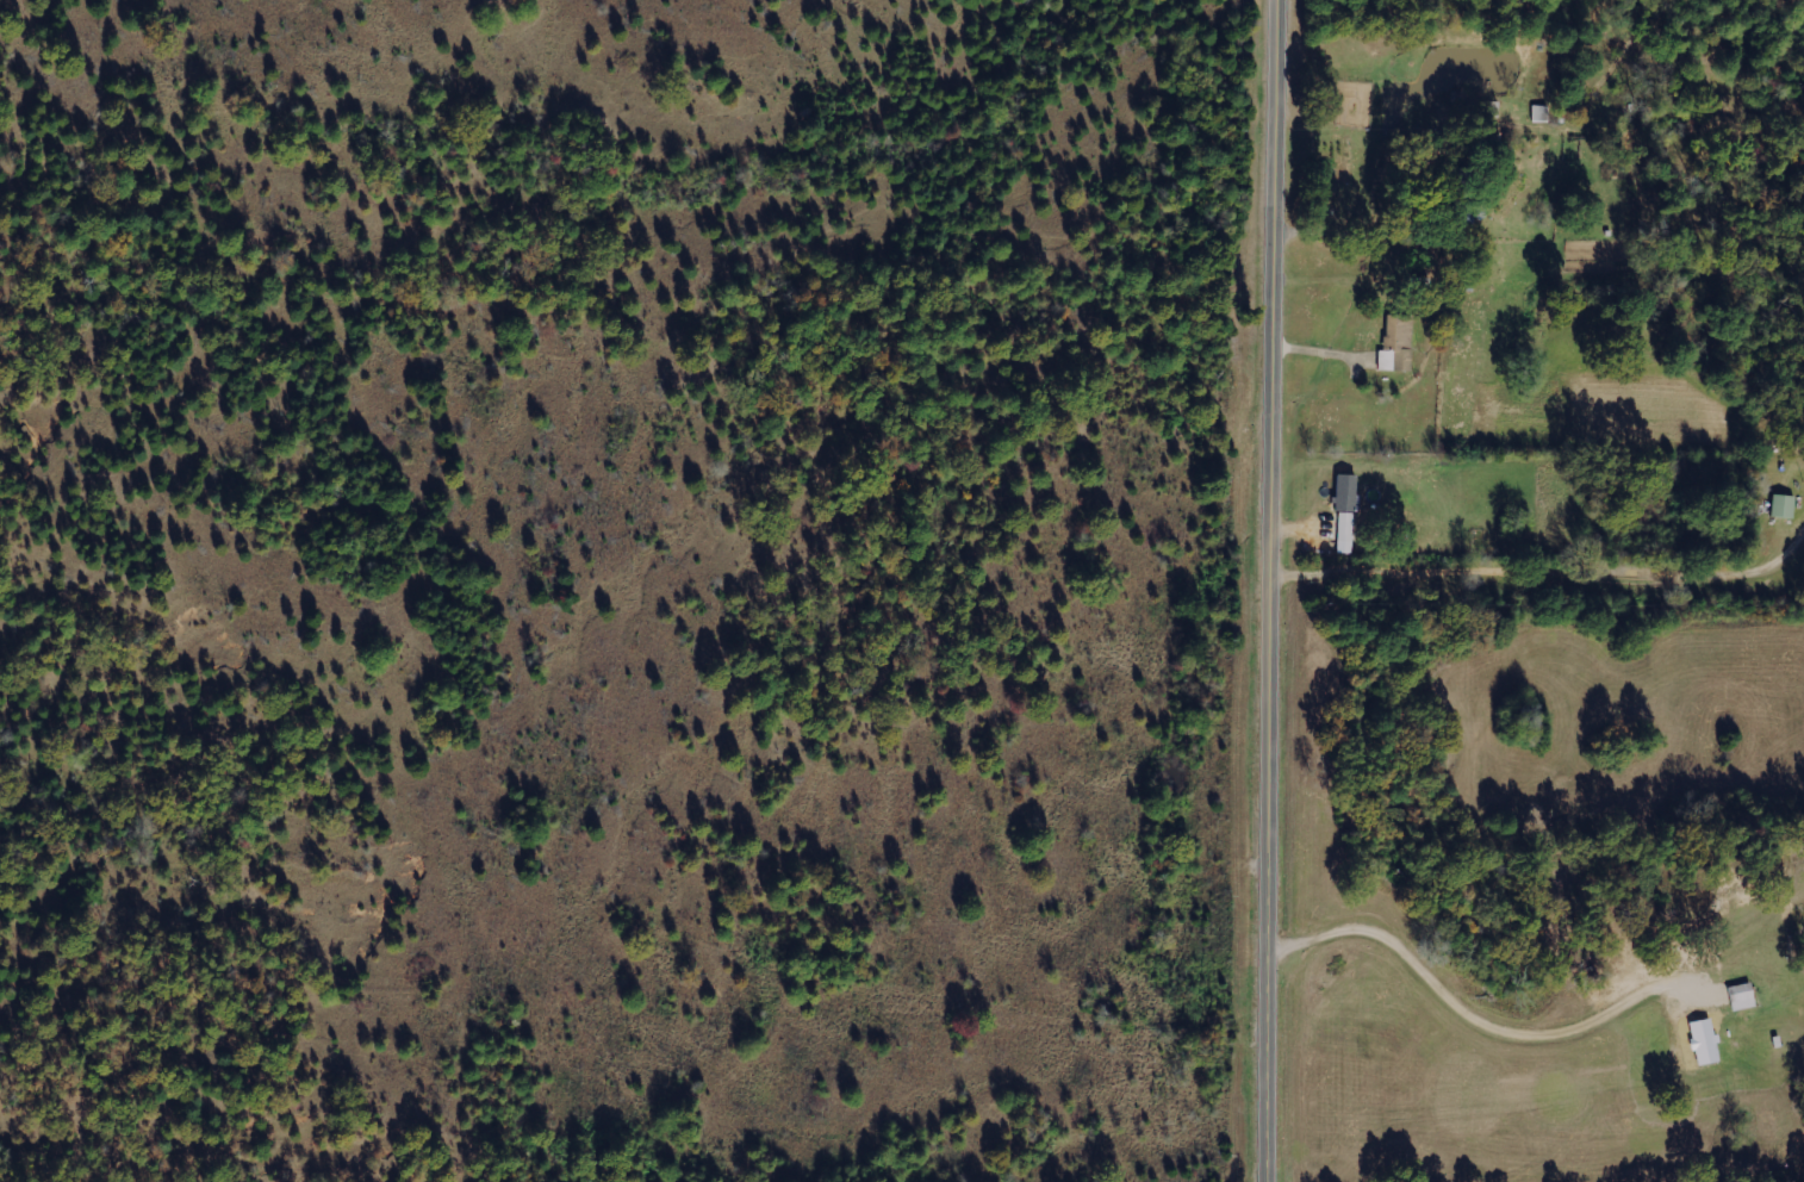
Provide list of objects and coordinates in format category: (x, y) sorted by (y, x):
road: (1478, 191)
building: (1399, 343)
building: (1779, 505)
building: (1343, 510)
road: (1269, 591)
building: (1737, 996)
road: (1535, 999)
building: (1700, 1041)

